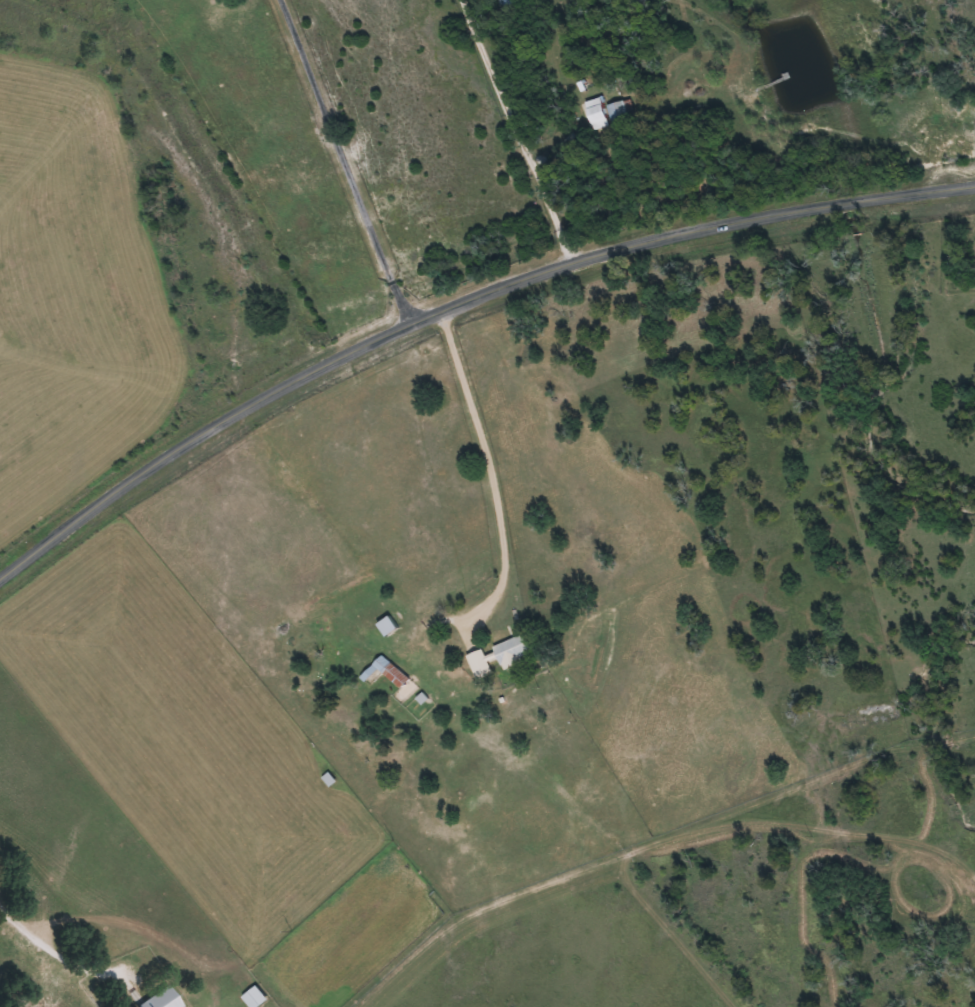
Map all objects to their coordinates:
building: (507, 0)
road: (795, 105)
building: (615, 112)
road: (550, 132)
road: (342, 164)
road: (456, 305)
building: (384, 626)
building: (496, 656)
building: (388, 671)
road: (56, 944)
building: (251, 997)
building: (158, 1000)

